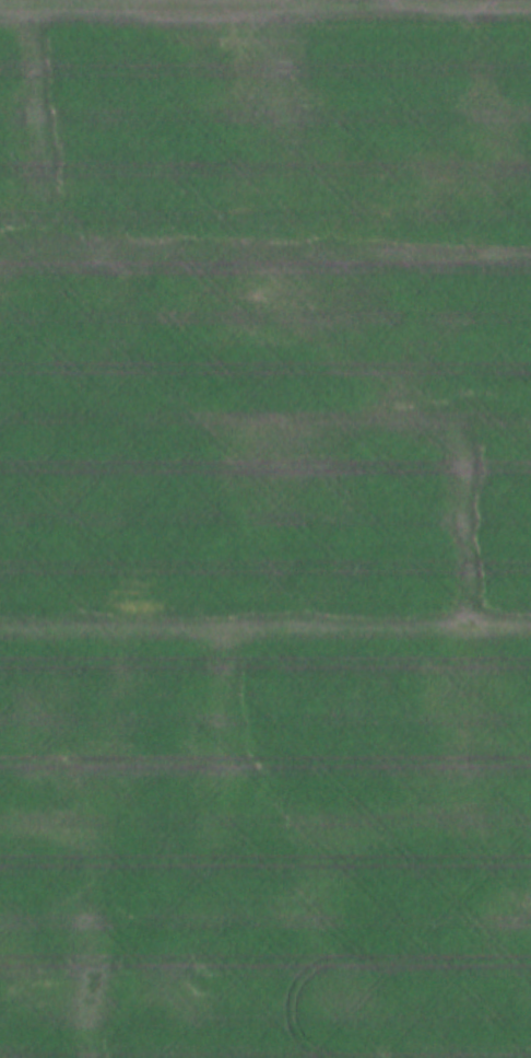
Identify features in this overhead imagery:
crop: (265, 528)

